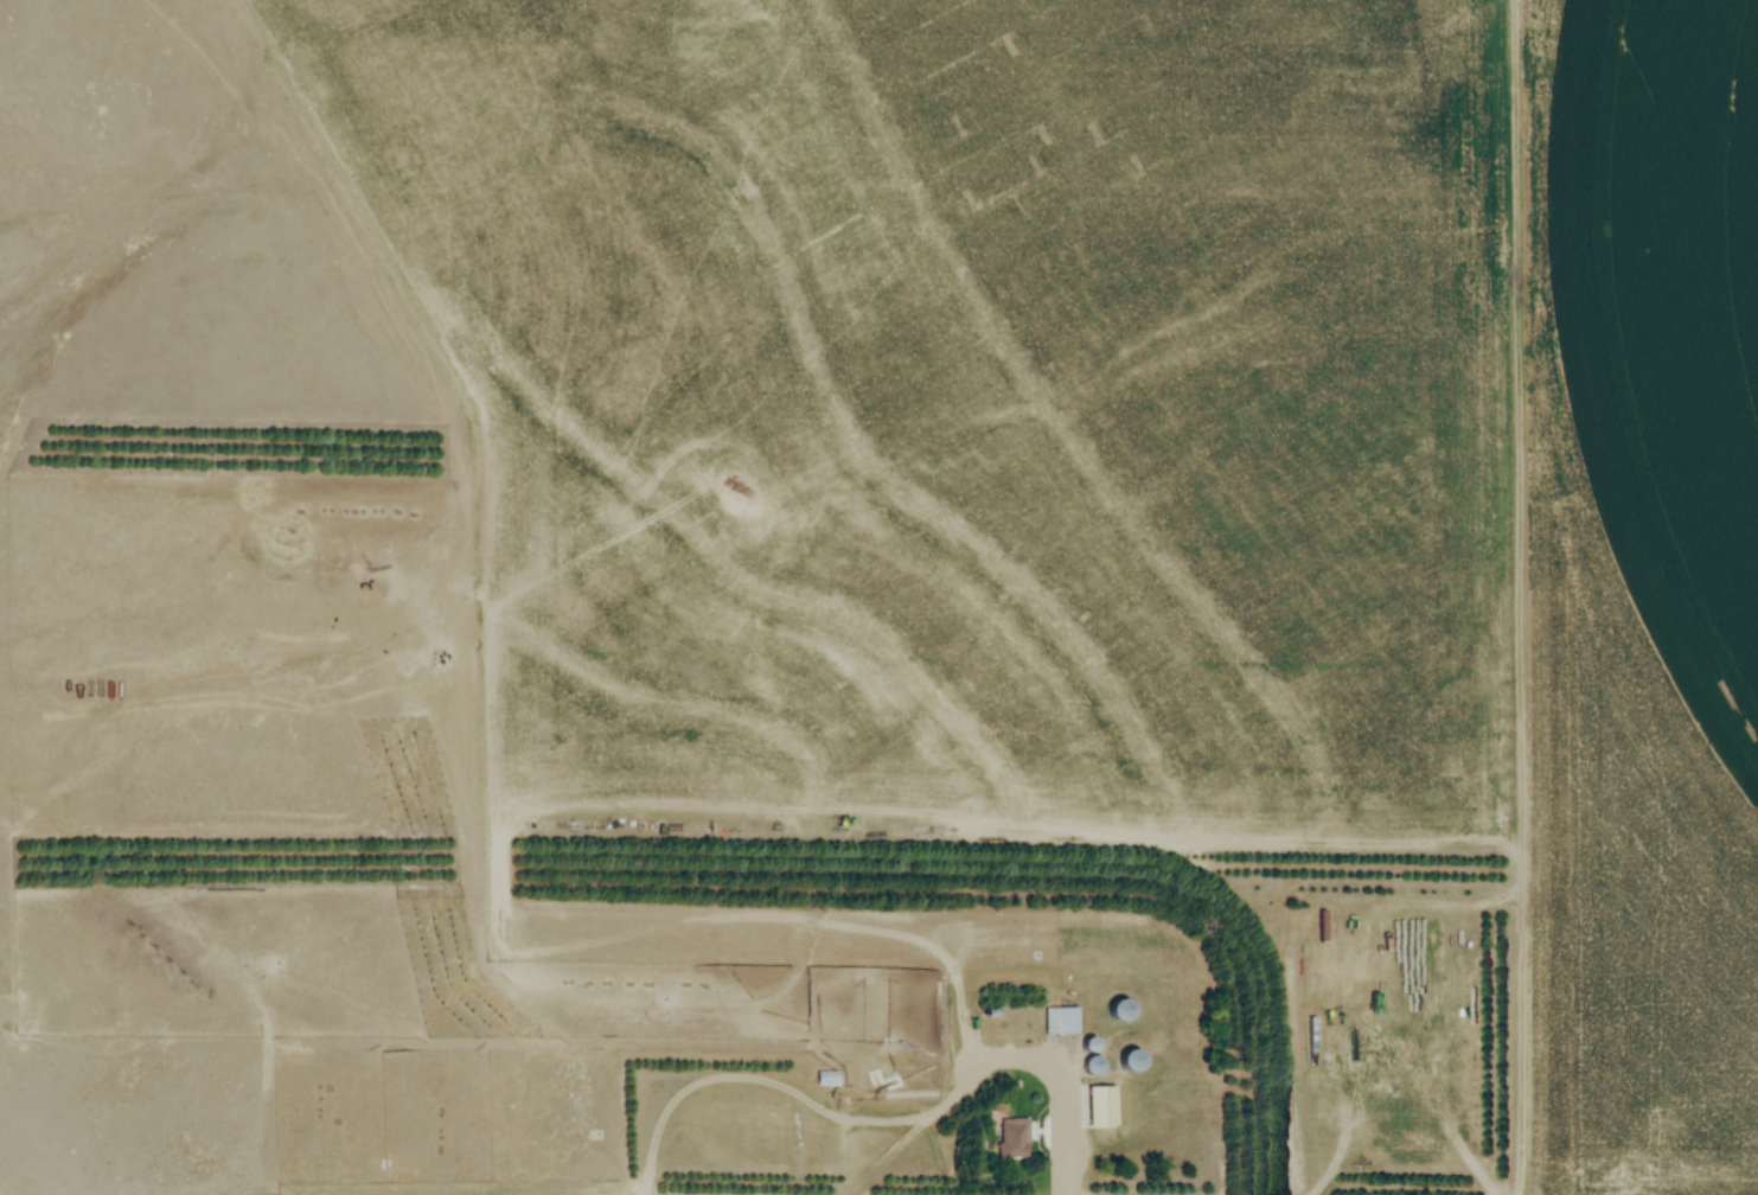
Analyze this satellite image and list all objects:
building: (1061, 1021)
building: (1131, 1061)
road: (1003, 1063)
building: (825, 1079)
building: (1014, 1138)

